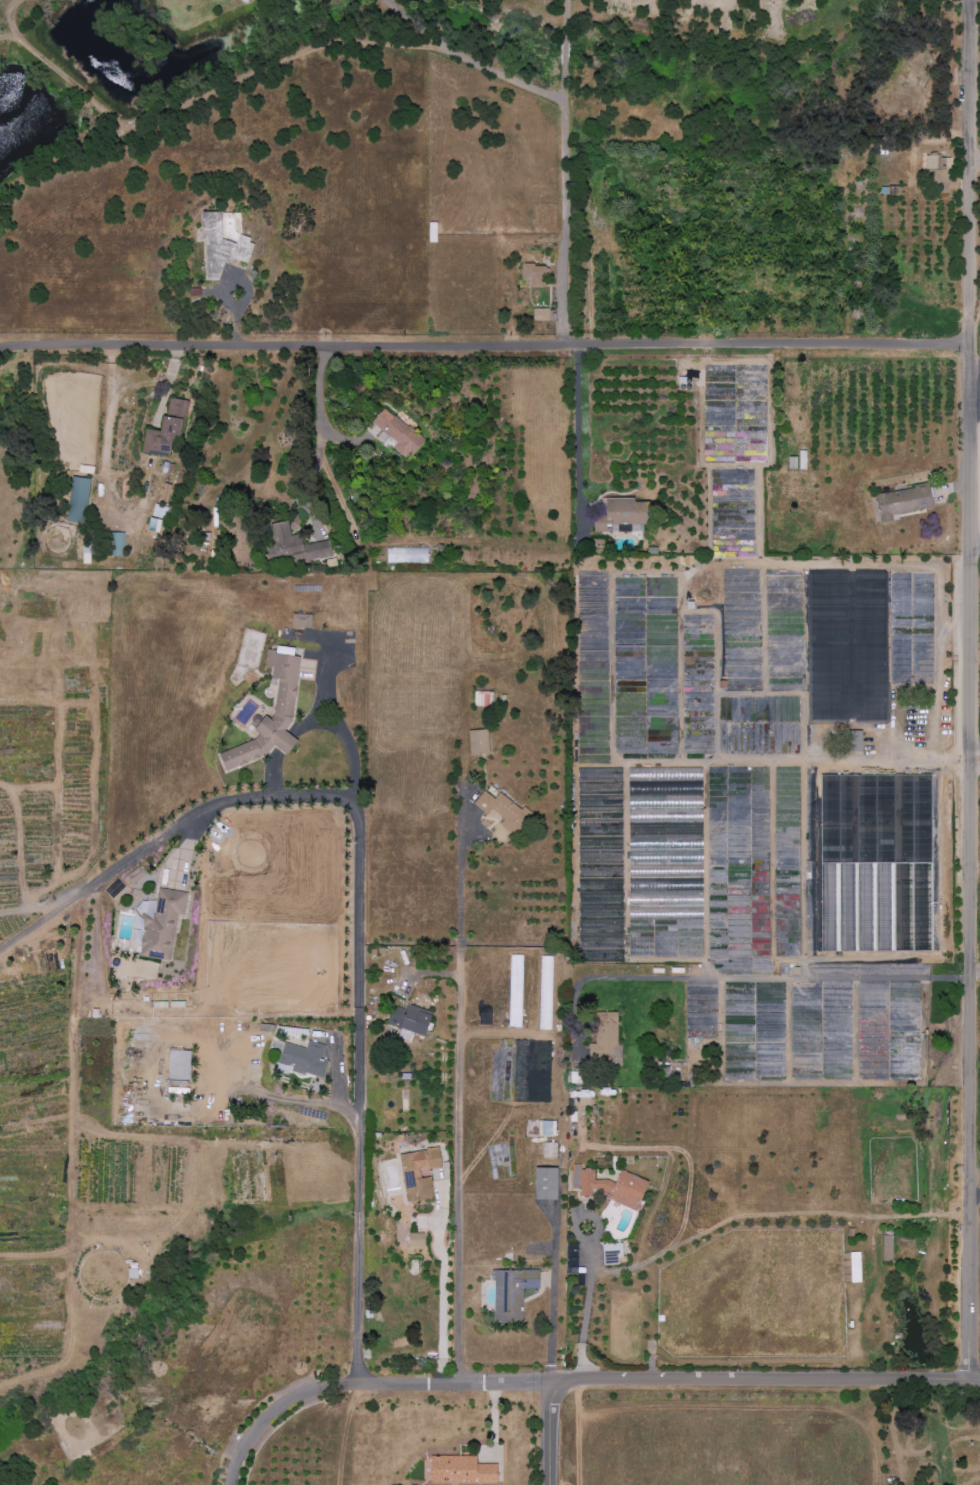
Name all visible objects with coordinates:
road: (416, 23)
road: (421, 44)
road: (975, 156)
road: (563, 168)
building: (939, 169)
building: (433, 233)
building: (221, 247)
building: (535, 275)
building: (541, 315)
road: (282, 340)
road: (765, 346)
road: (976, 363)
road: (318, 430)
road: (975, 430)
building: (167, 431)
building: (398, 432)
road: (579, 432)
building: (798, 461)
building: (78, 500)
building: (904, 502)
building: (159, 511)
building: (153, 524)
building: (117, 544)
building: (295, 546)
building: (407, 555)
road: (975, 555)
building: (302, 620)
road: (940, 678)
road: (971, 692)
building: (285, 697)
building: (479, 741)
building: (855, 741)
road: (350, 743)
road: (927, 759)
road: (975, 767)
building: (503, 811)
road: (975, 867)
road: (105, 876)
building: (161, 924)
road: (788, 977)
road: (361, 1008)
building: (410, 1019)
building: (607, 1035)
road: (193, 1047)
building: (305, 1059)
building: (179, 1072)
road: (457, 1111)
building: (547, 1128)
building: (550, 1150)
building: (419, 1173)
building: (547, 1183)
building: (610, 1186)
road: (975, 1194)
road: (757, 1219)
building: (417, 1240)
building: (888, 1248)
building: (613, 1250)
building: (856, 1267)
building: (512, 1293)
road: (554, 1299)
road: (587, 1306)
road: (438, 1383)
road: (766, 1384)
road: (264, 1423)
road: (552, 1434)
building: (462, 1471)

